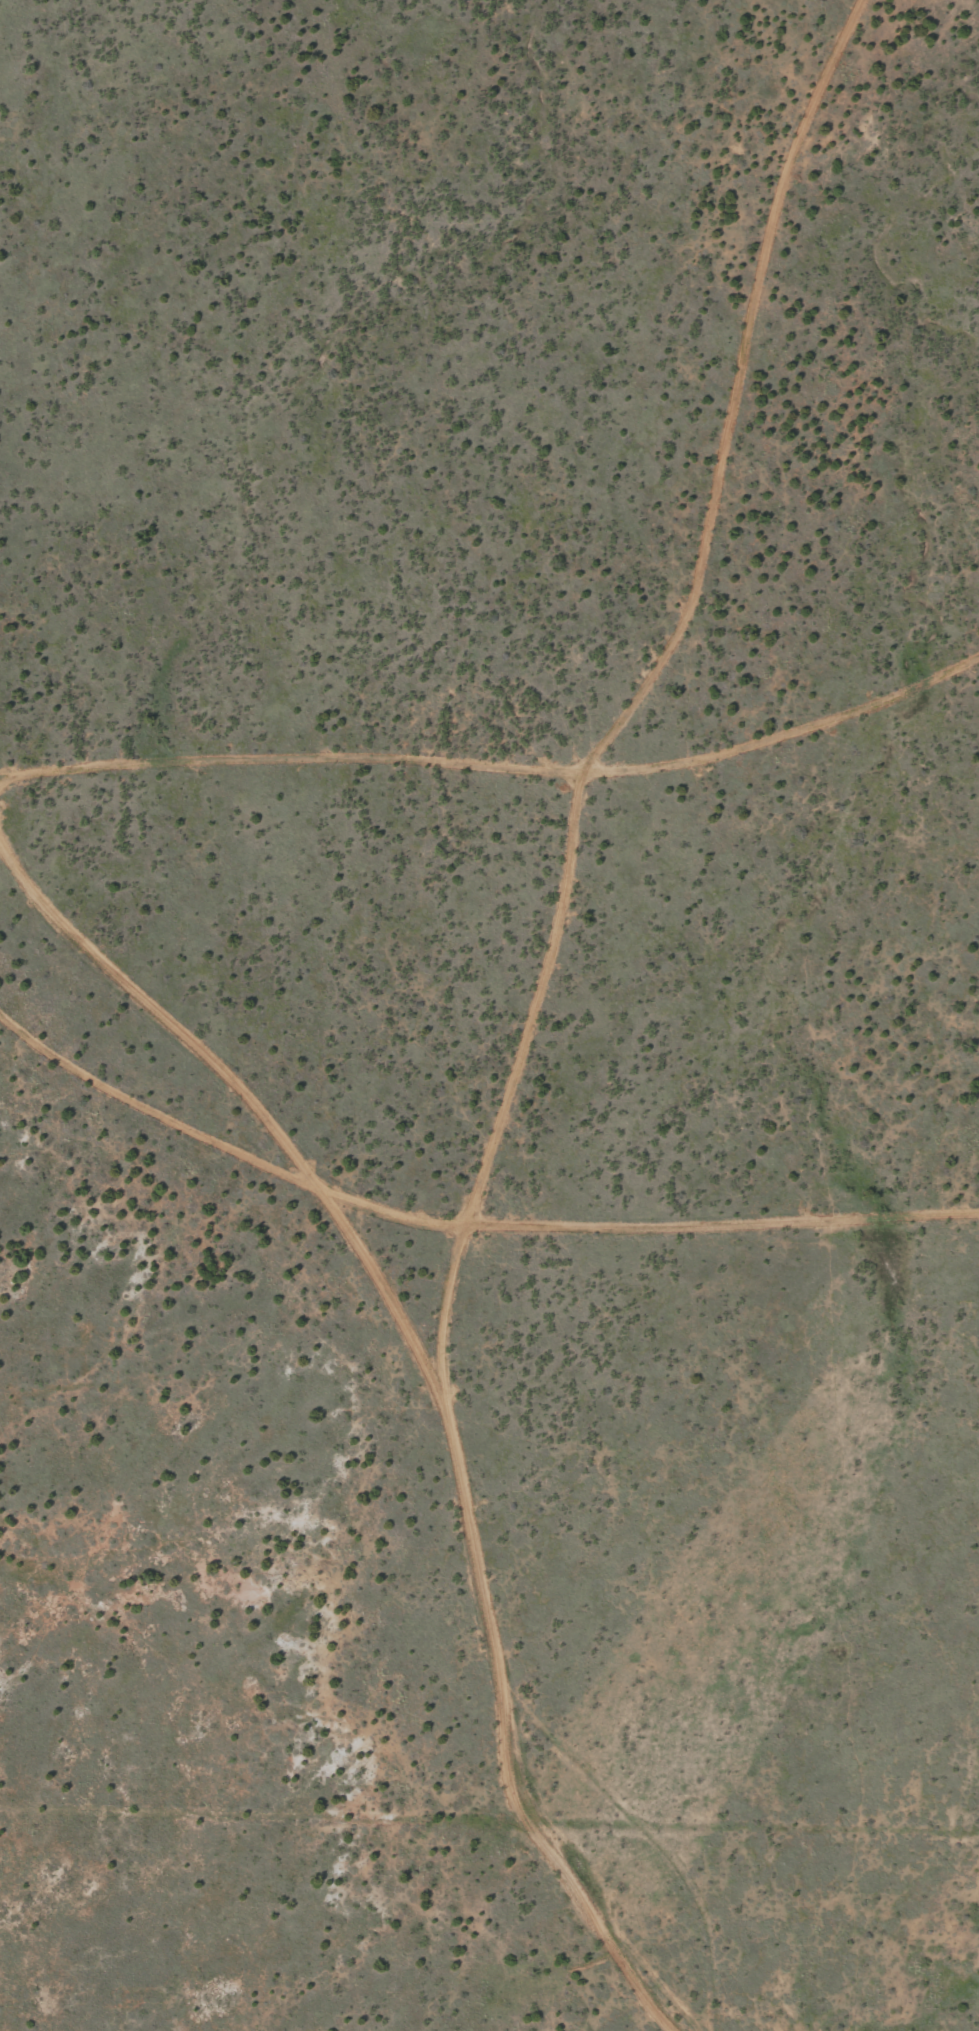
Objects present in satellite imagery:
road: (498, 821)
road: (148, 992)
road: (528, 1022)
road: (268, 1202)
road: (632, 1257)

